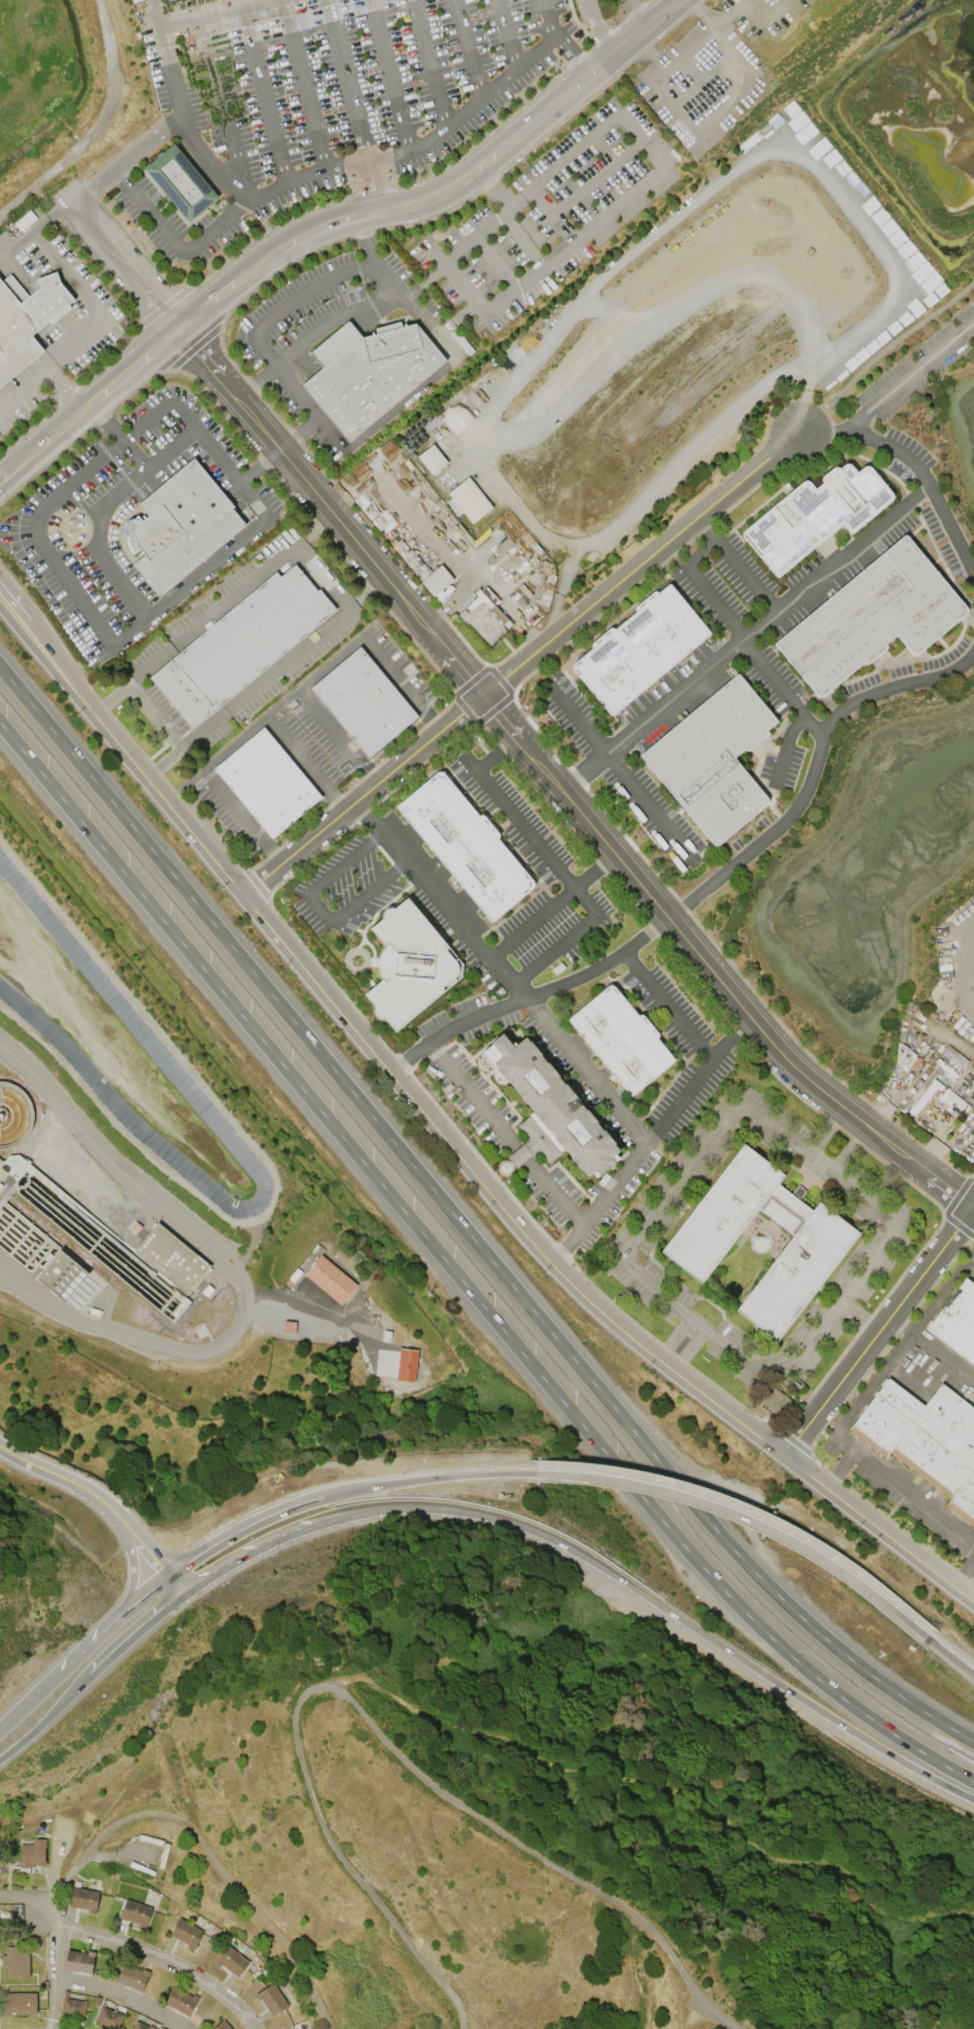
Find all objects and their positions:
road: (155, 12)
road: (206, 12)
road: (637, 12)
road: (700, 14)
road: (547, 22)
road: (597, 28)
road: (506, 34)
road: (467, 49)
road: (574, 58)
road: (428, 64)
road: (388, 75)
road: (701, 76)
road: (345, 79)
road: (303, 84)
road: (263, 93)
road: (224, 108)
road: (183, 124)
road: (694, 128)
road: (127, 159)
road: (327, 167)
road: (596, 174)
building: (180, 182)
road: (372, 186)
road: (443, 192)
road: (619, 200)
road: (551, 212)
road: (52, 214)
road: (520, 238)
road: (118, 257)
road: (493, 261)
road: (438, 269)
road: (103, 311)
building: (26, 319)
road: (307, 332)
road: (428, 332)
road: (65, 333)
road: (882, 352)
building: (368, 372)
road: (909, 379)
road: (23, 388)
road: (295, 389)
road: (89, 403)
building: (456, 417)
road: (298, 432)
road: (138, 458)
building: (432, 459)
road: (257, 464)
road: (914, 466)
building: (470, 500)
building: (814, 515)
building: (179, 526)
road: (429, 532)
road: (82, 538)
road: (690, 571)
road: (322, 572)
road: (487, 578)
road: (815, 579)
building: (437, 580)
road: (168, 601)
building: (871, 617)
building: (485, 618)
road: (758, 625)
building: (240, 645)
building: (639, 648)
road: (329, 660)
road: (521, 665)
road: (668, 697)
road: (280, 700)
building: (363, 702)
road: (153, 712)
road: (537, 718)
road: (575, 718)
road: (232, 740)
road: (784, 747)
road: (497, 751)
building: (712, 759)
building: (266, 782)
road: (182, 783)
road: (557, 786)
road: (673, 839)
building: (465, 845)
road: (569, 877)
road: (709, 886)
road: (554, 907)
road: (318, 909)
road: (965, 946)
building: (409, 965)
road: (504, 972)
road: (667, 1009)
building: (620, 1039)
road: (369, 1047)
building: (548, 1107)
road: (826, 1132)
road: (507, 1134)
road: (650, 1142)
road: (695, 1163)
wastewater plant: (191, 1202)
road: (973, 1206)
road: (973, 1208)
road: (463, 1228)
building: (698, 1243)
building: (173, 1259)
road: (233, 1270)
building: (64, 1275)
building: (332, 1279)
road: (461, 1280)
road: (932, 1307)
building: (957, 1322)
road: (877, 1332)
road: (687, 1346)
building: (406, 1365)
road: (874, 1384)
building: (774, 1401)
building: (924, 1439)
road: (428, 1479)
road: (337, 1483)
road: (916, 1499)
road: (104, 1505)
road: (752, 1509)
road: (748, 1520)
road: (878, 1530)
road: (242, 1531)
road: (248, 1554)
road: (134, 1574)
road: (964, 1577)
road: (141, 1602)
road: (661, 1608)
road: (135, 1634)
road: (91, 1645)
road: (955, 1649)
road: (952, 1659)
road: (36, 1699)
road: (46, 1718)
road: (371, 1731)
road: (203, 1847)
building: (32, 1854)
road: (820, 1866)
building: (83, 1899)
building: (135, 1913)
building: (185, 1933)
road: (130, 1947)
building: (15, 1961)
building: (78, 1961)
building: (231, 1961)
road: (53, 1975)
building: (131, 1977)
road: (119, 1996)
building: (270, 1999)
building: (181, 2000)
building: (18, 2004)
building: (71, 2010)
building: (109, 2018)
building: (221, 2025)
building: (142, 2026)

